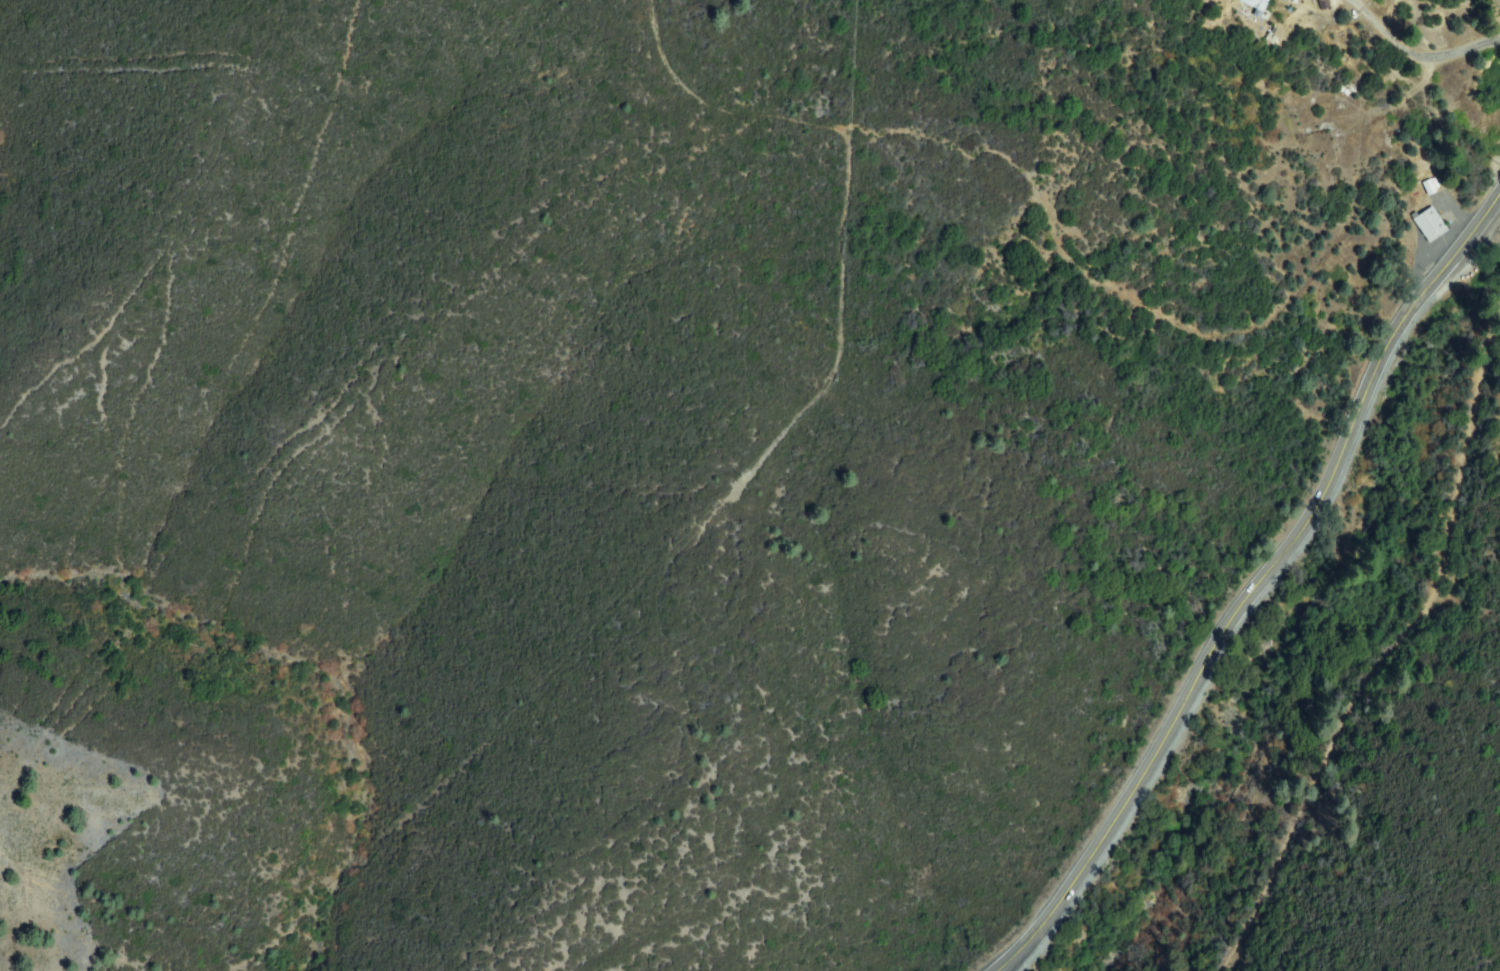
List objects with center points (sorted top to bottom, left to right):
building: (1258, 3)
road: (1408, 36)
road: (1434, 75)
building: (1432, 185)
building: (1431, 225)
road: (1422, 295)
road: (1391, 656)
road: (1187, 693)

